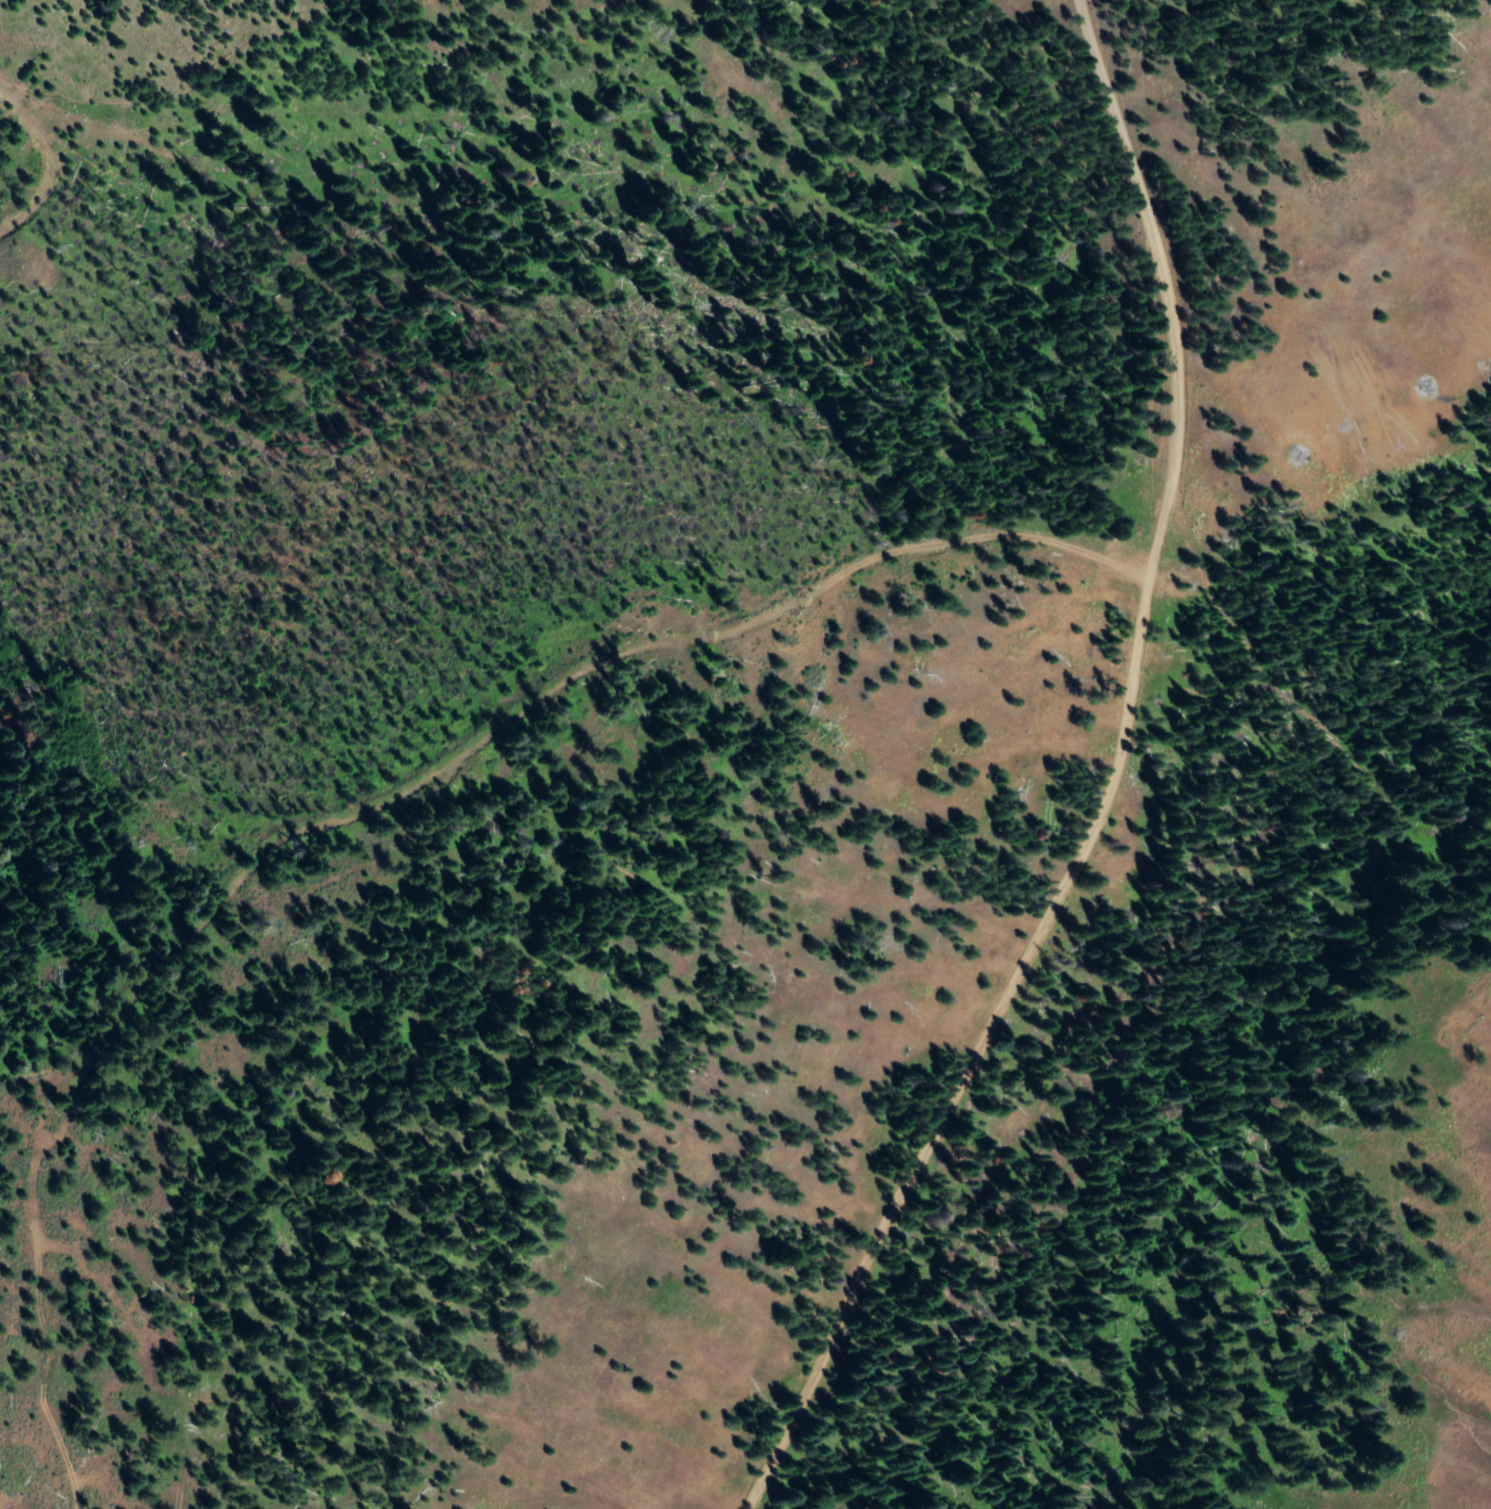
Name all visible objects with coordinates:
road: (1209, 340)
road: (1355, 748)
road: (1022, 1105)

